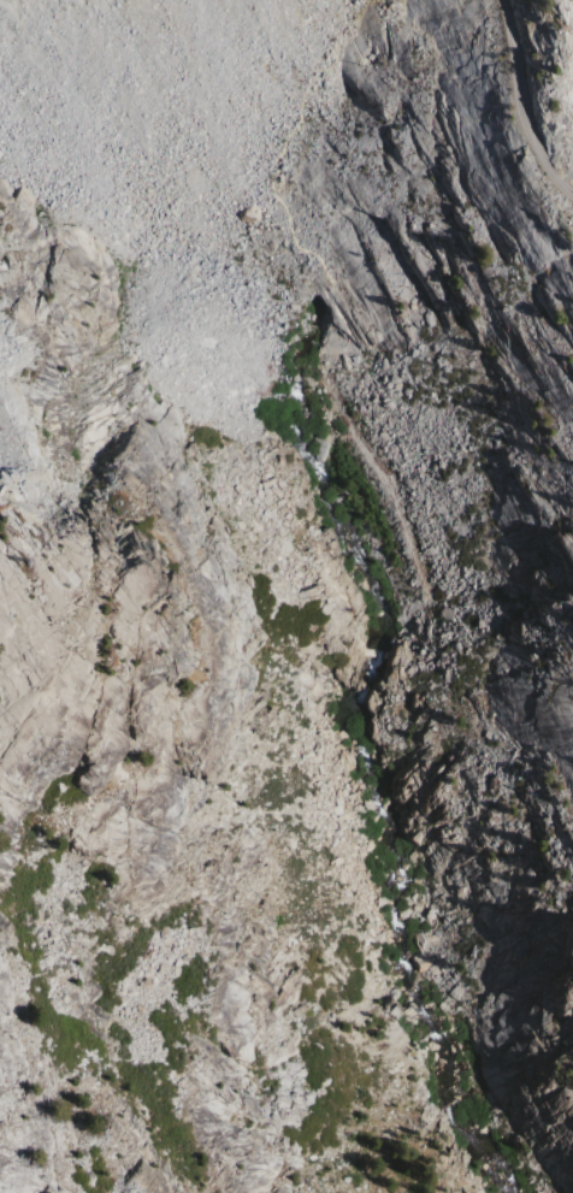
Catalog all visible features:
road: (520, 101)
dam: (184, 125)

